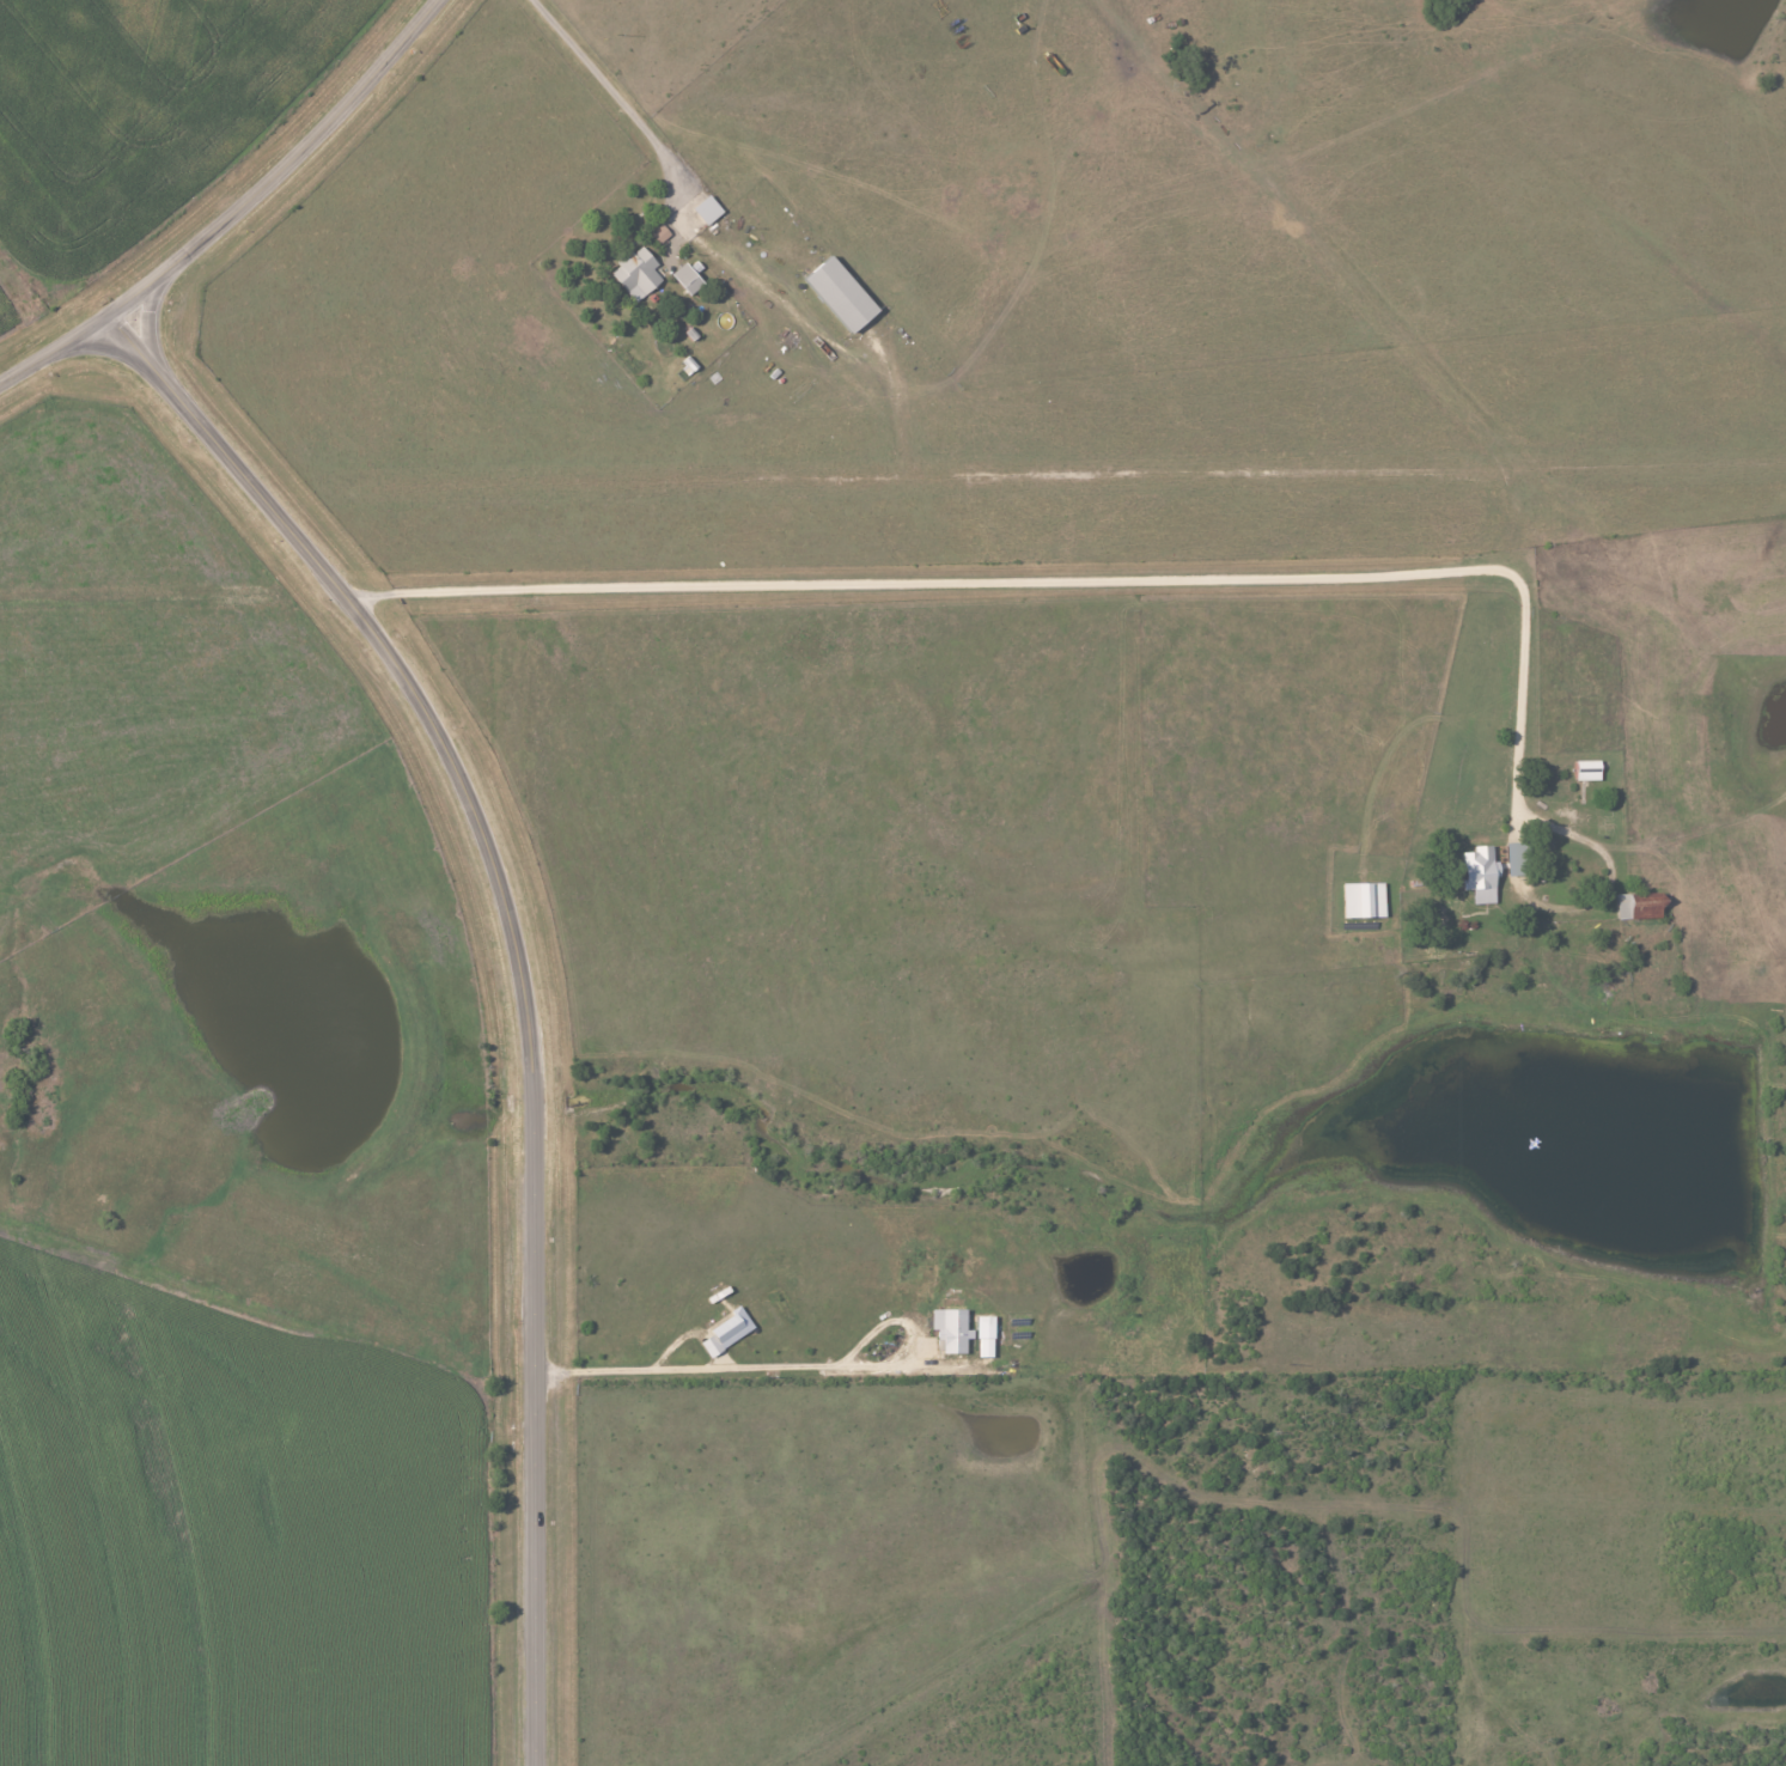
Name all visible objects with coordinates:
road: (608, 90)
building: (707, 209)
road: (238, 212)
building: (659, 233)
building: (636, 273)
building: (687, 278)
building: (841, 294)
road: (1055, 581)
building: (1517, 858)
road: (1608, 864)
building: (1480, 873)
building: (1363, 900)
building: (1639, 906)
road: (516, 976)
crop: (122, 1065)
building: (951, 1328)
building: (726, 1330)
building: (985, 1335)
crop: (170, 1342)
road: (721, 1378)
road: (480, 1436)
road: (507, 1436)
crop: (245, 1587)

